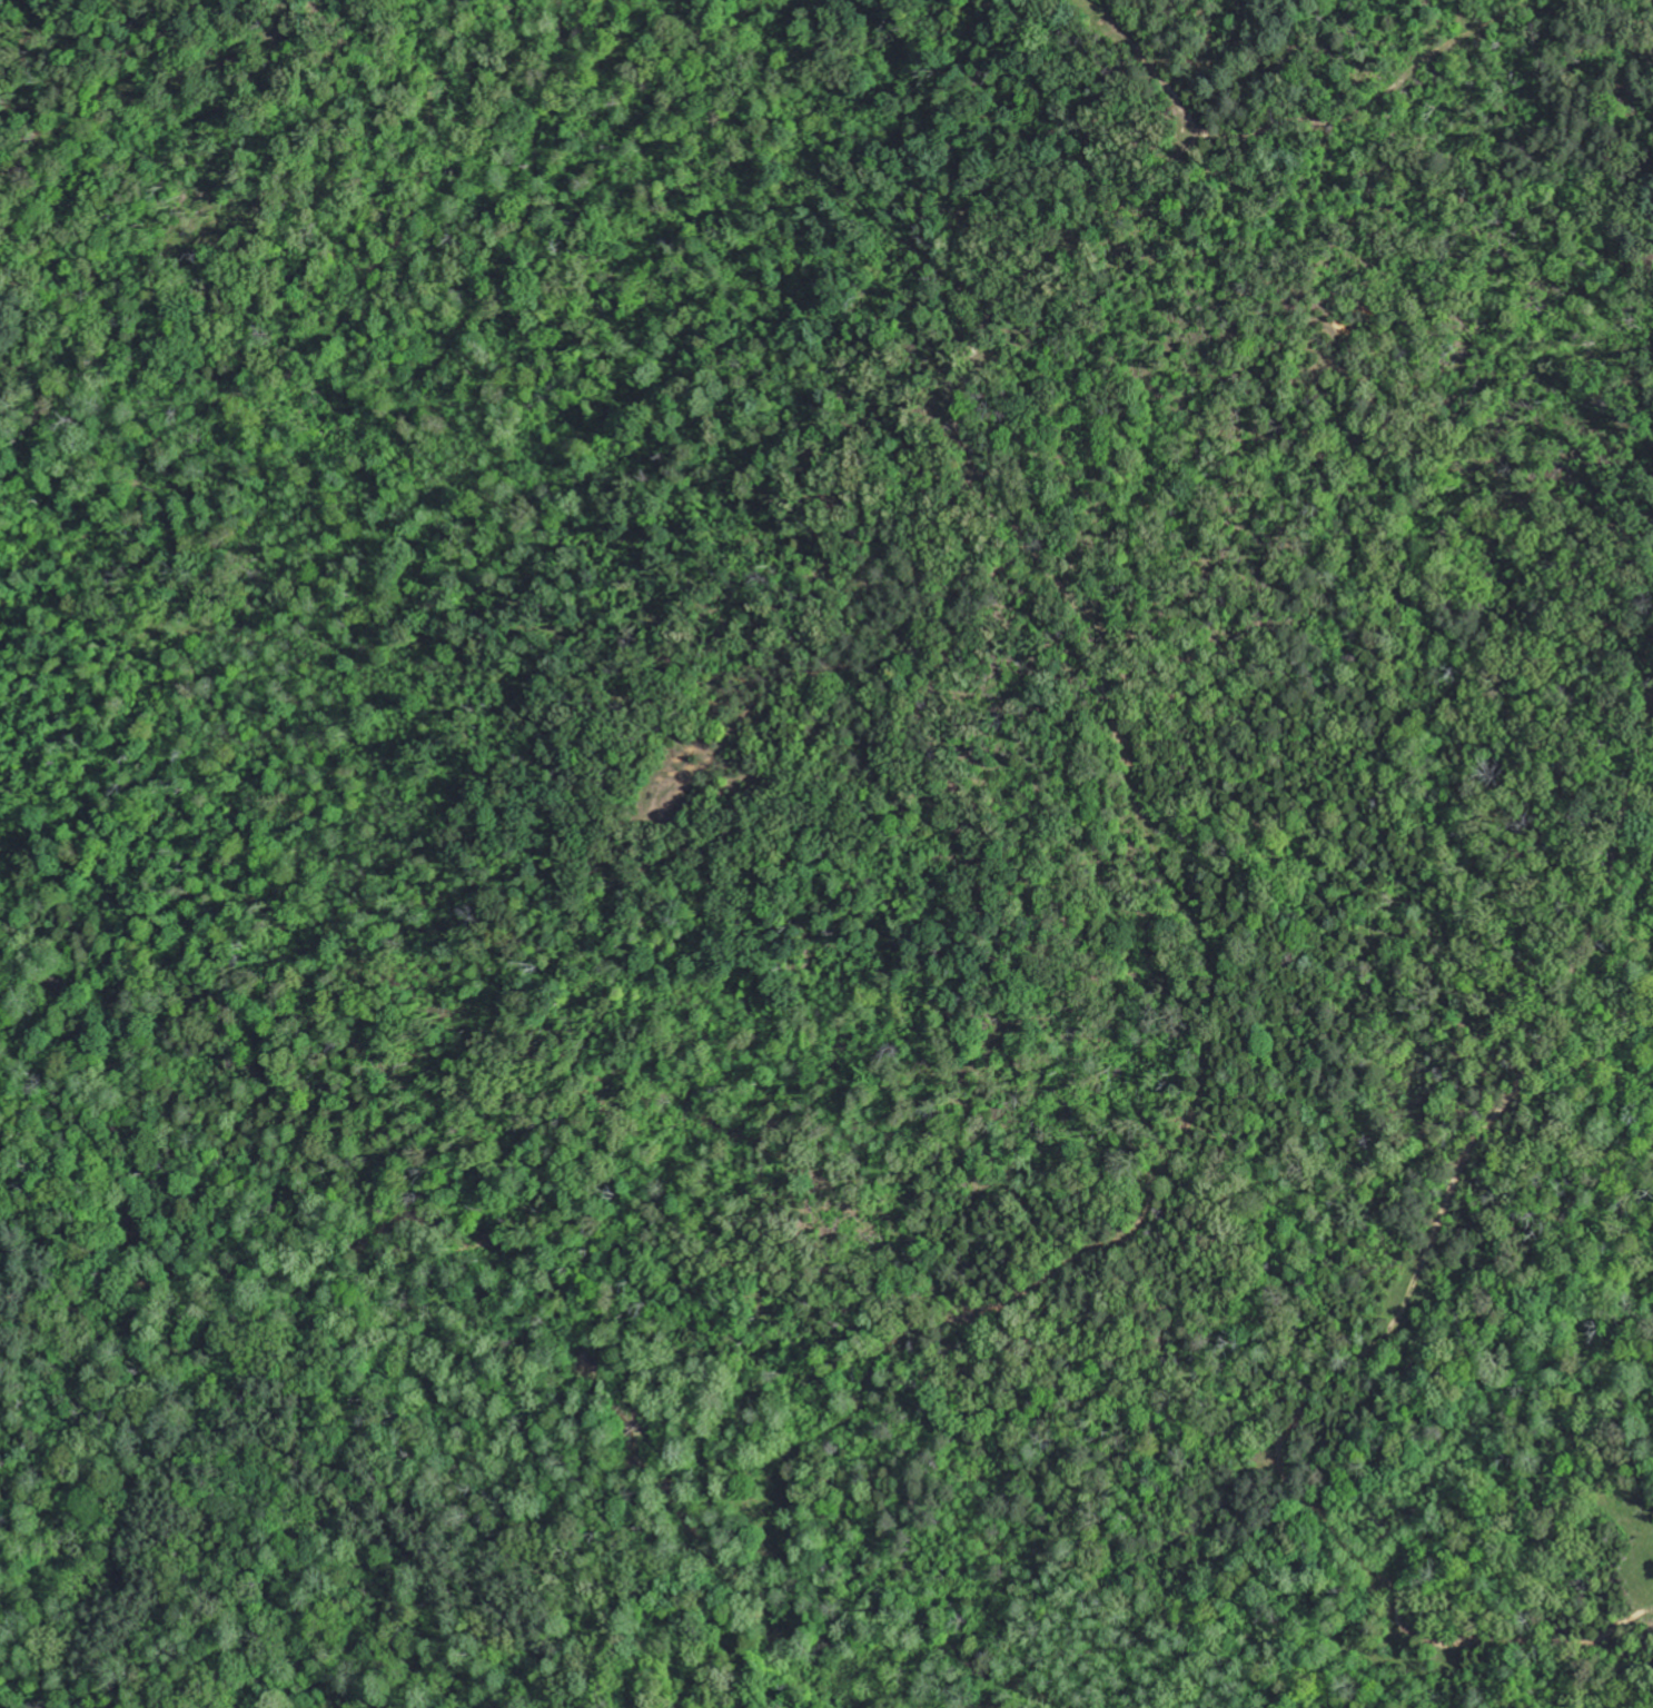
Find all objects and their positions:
road: (1468, 937)

